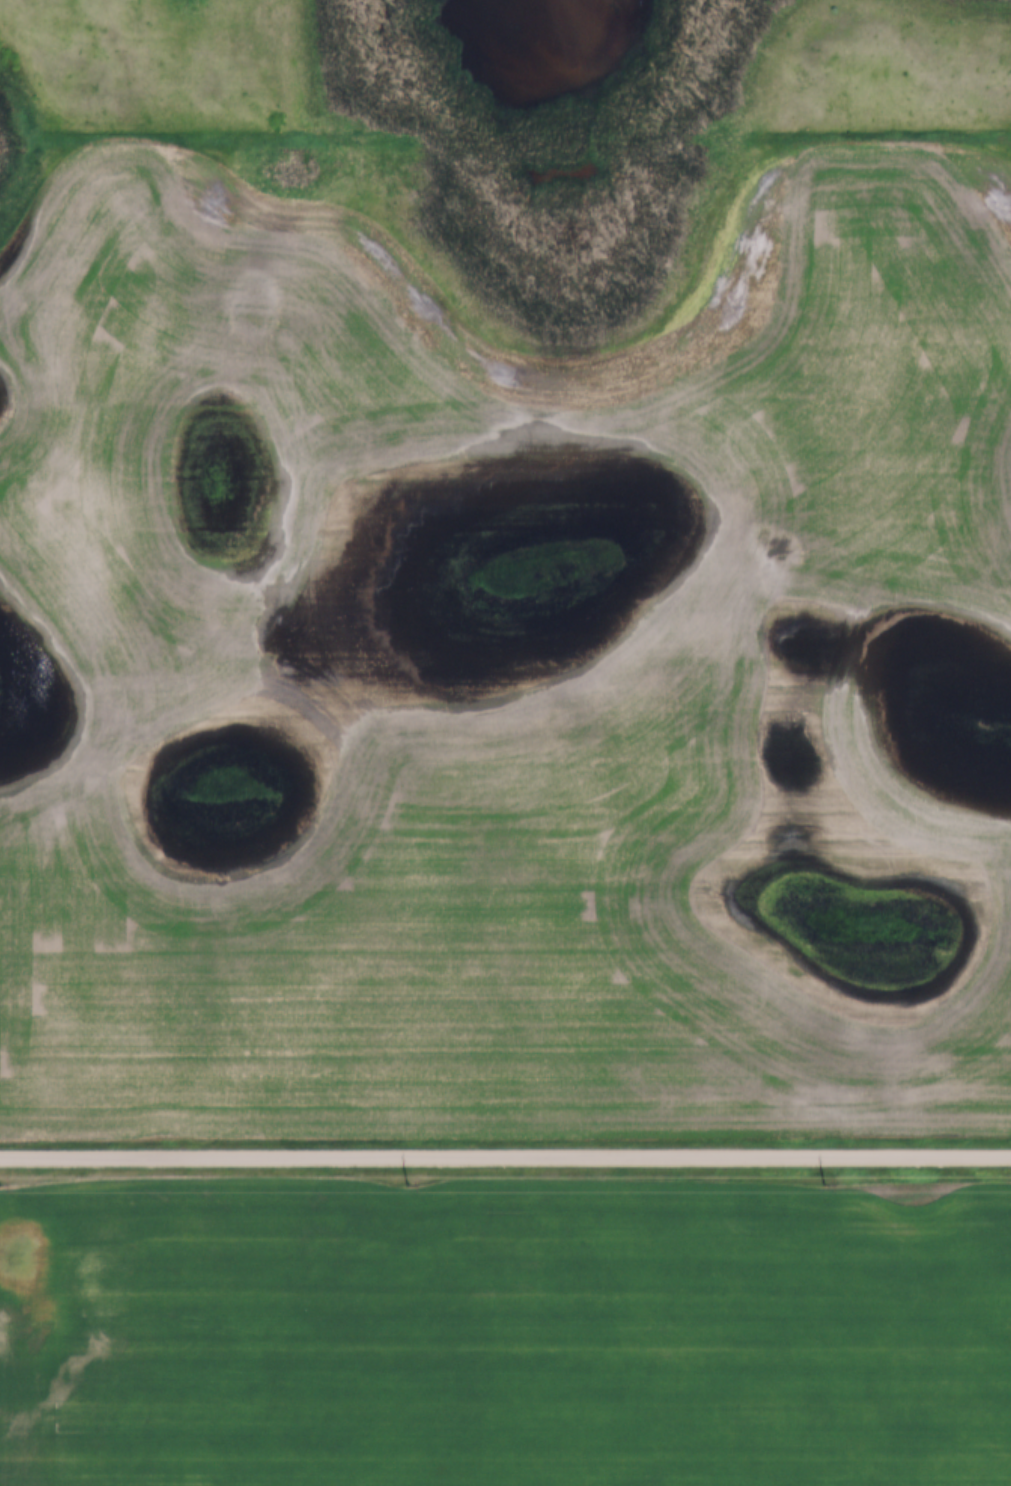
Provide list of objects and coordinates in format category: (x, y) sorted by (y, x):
road: (505, 1157)
power tower: (824, 1182)
power tower: (2, 1185)
power tower: (408, 1185)

